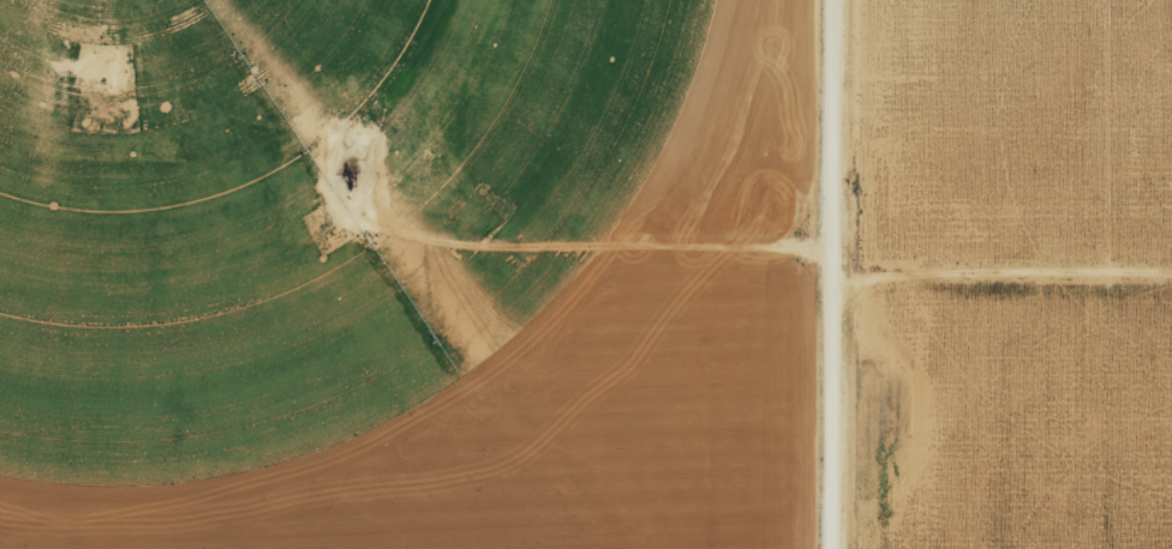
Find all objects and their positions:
petroleum well: (351, 177)
road: (861, 274)
road: (1017, 294)

